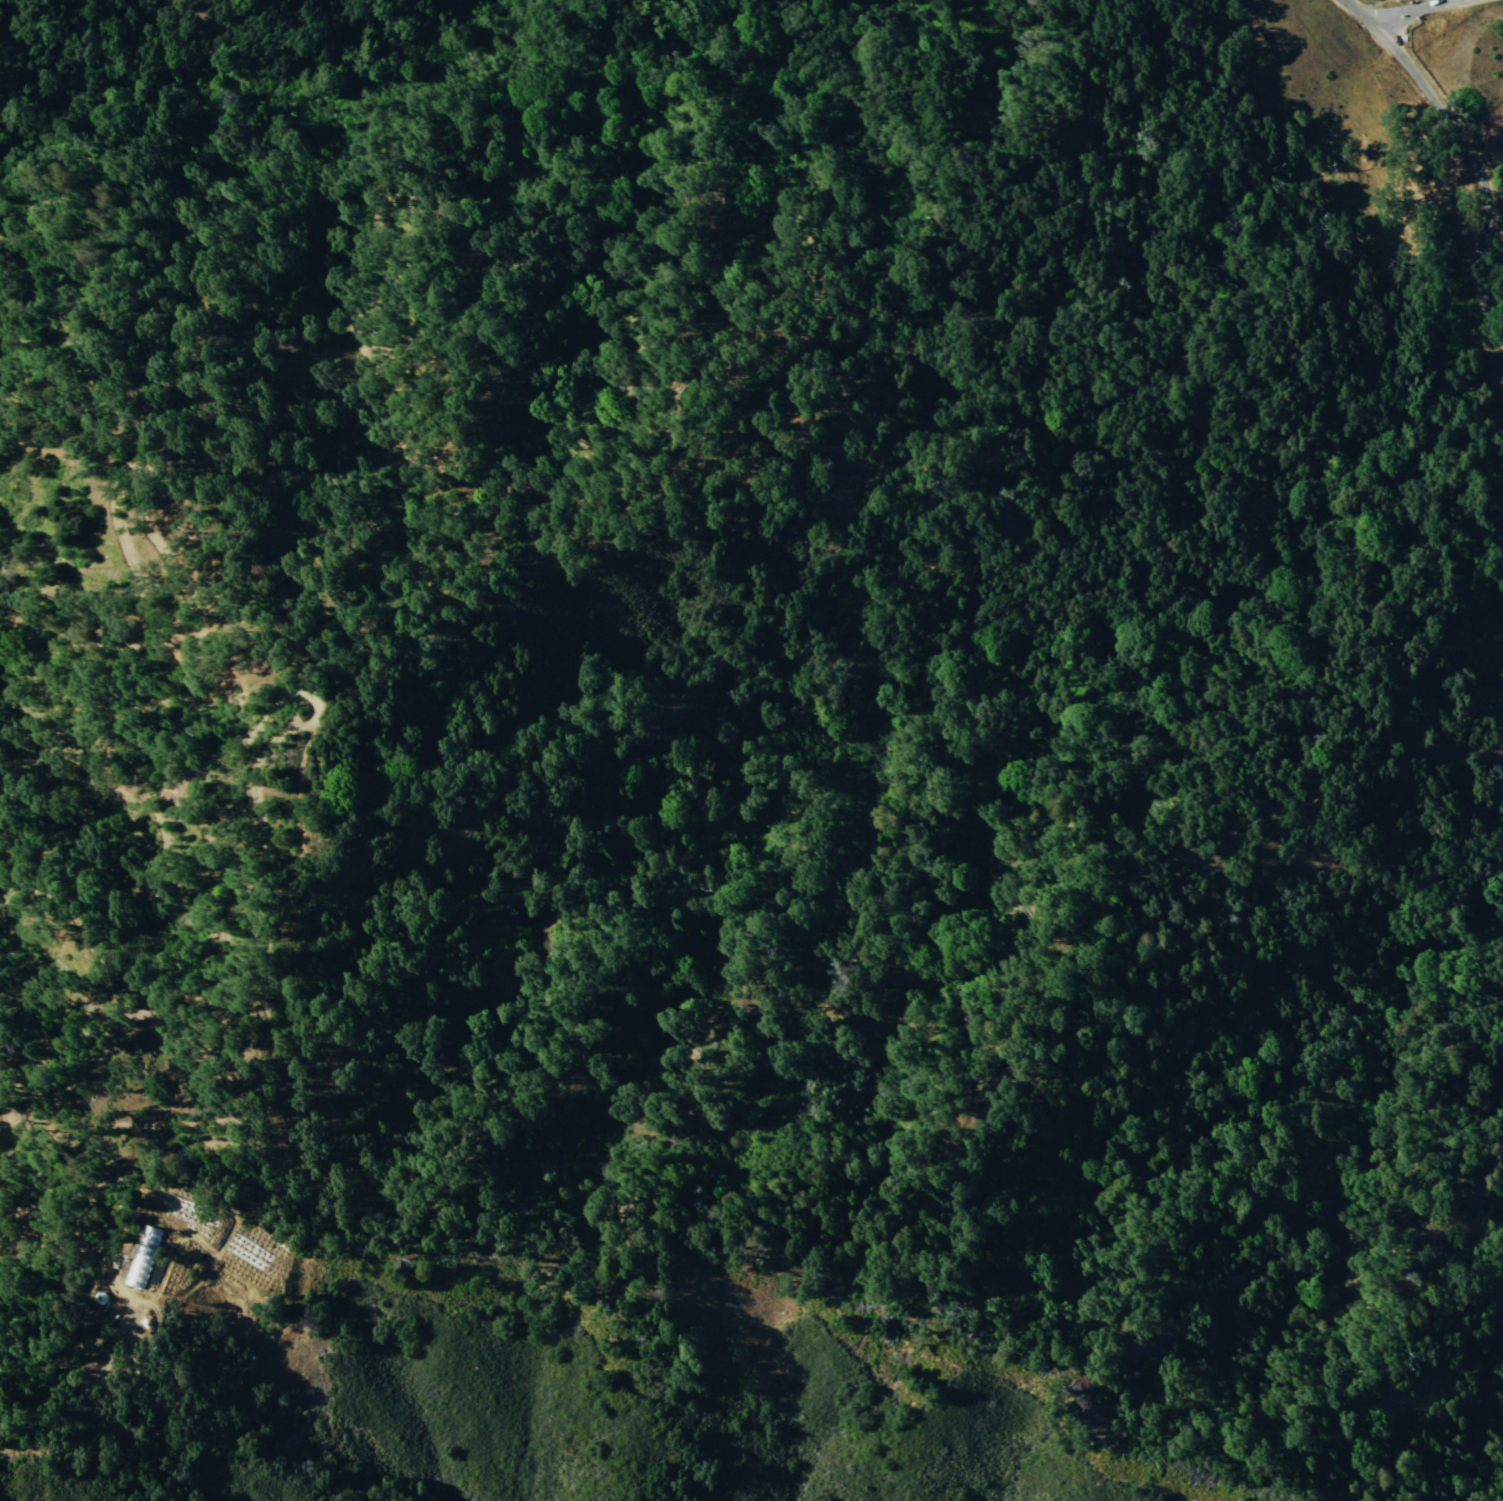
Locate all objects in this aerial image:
road: (1418, 13)
road: (1472, 147)
building: (197, 1214)
building: (145, 1254)
building: (259, 1256)

